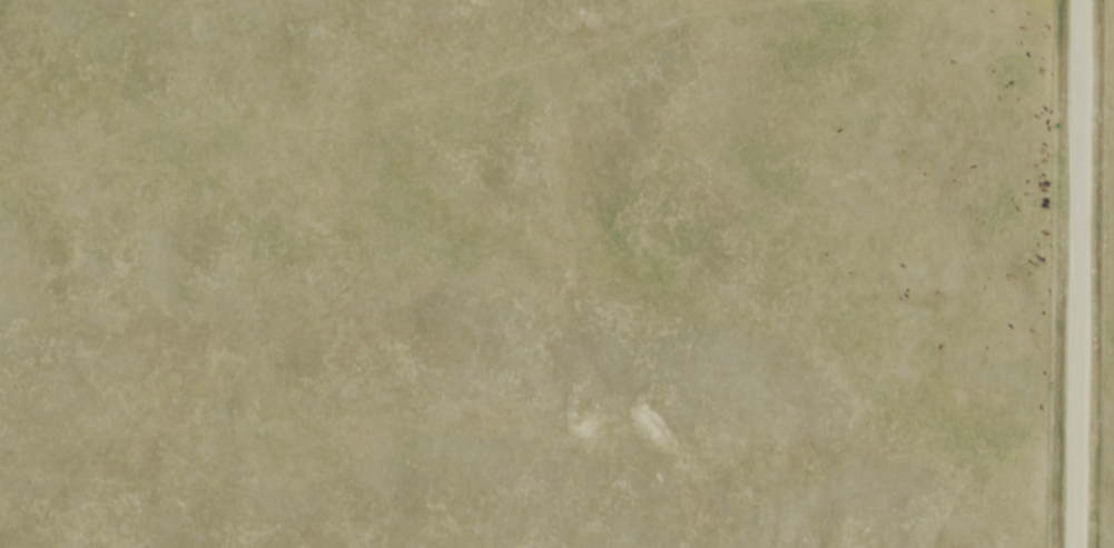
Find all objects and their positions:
road: (1077, 273)

